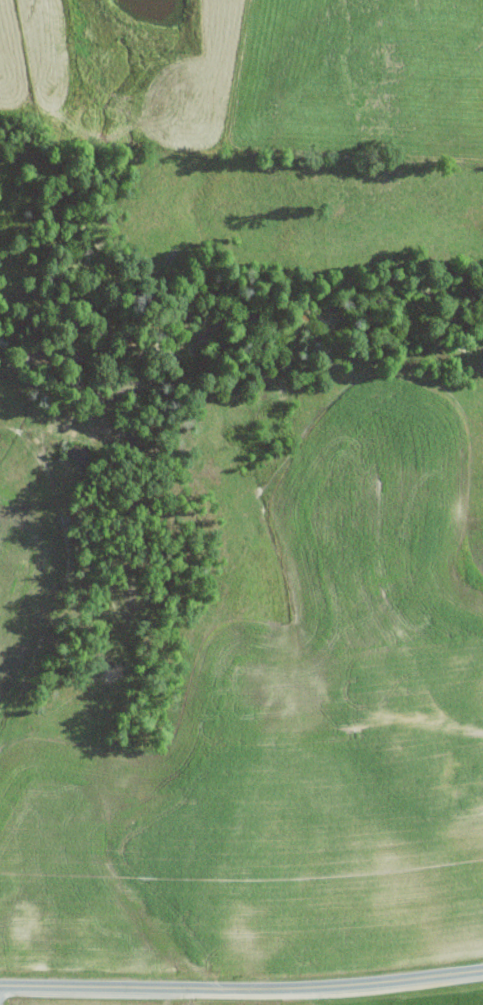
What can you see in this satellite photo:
road: (241, 987)

